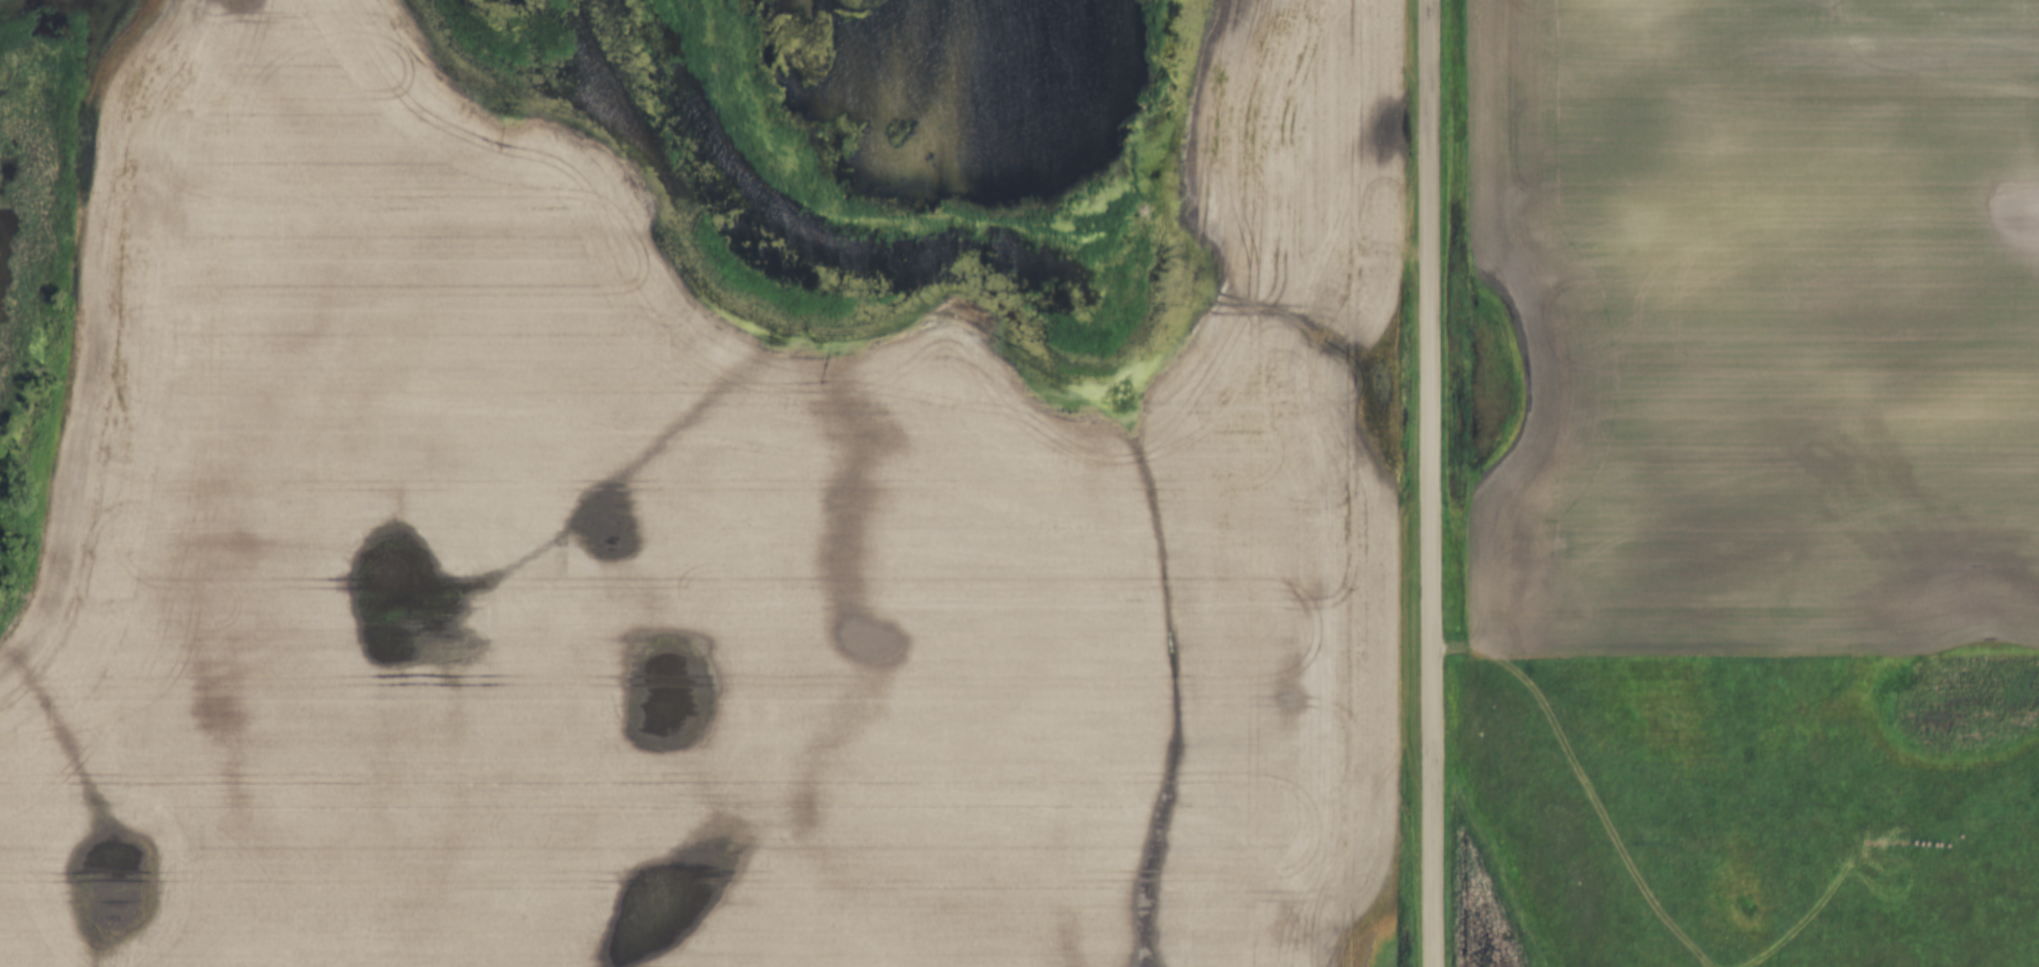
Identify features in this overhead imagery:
road: (1430, 483)

